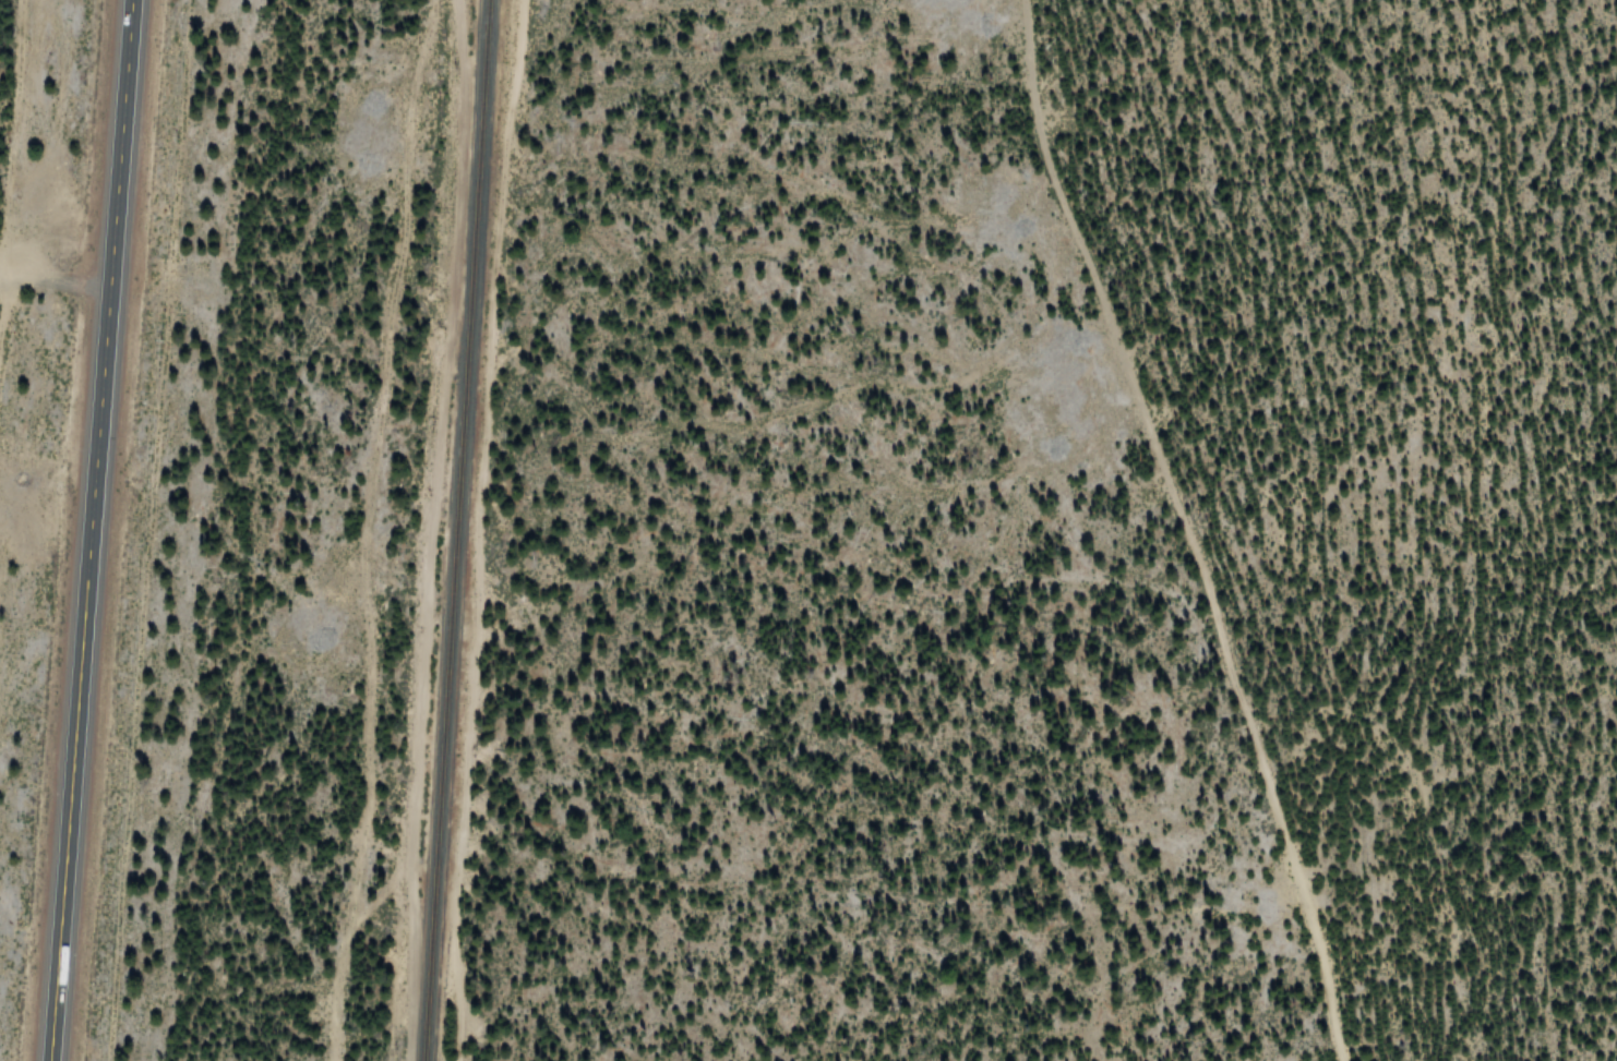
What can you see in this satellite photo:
road: (92, 530)
railway: (455, 530)

